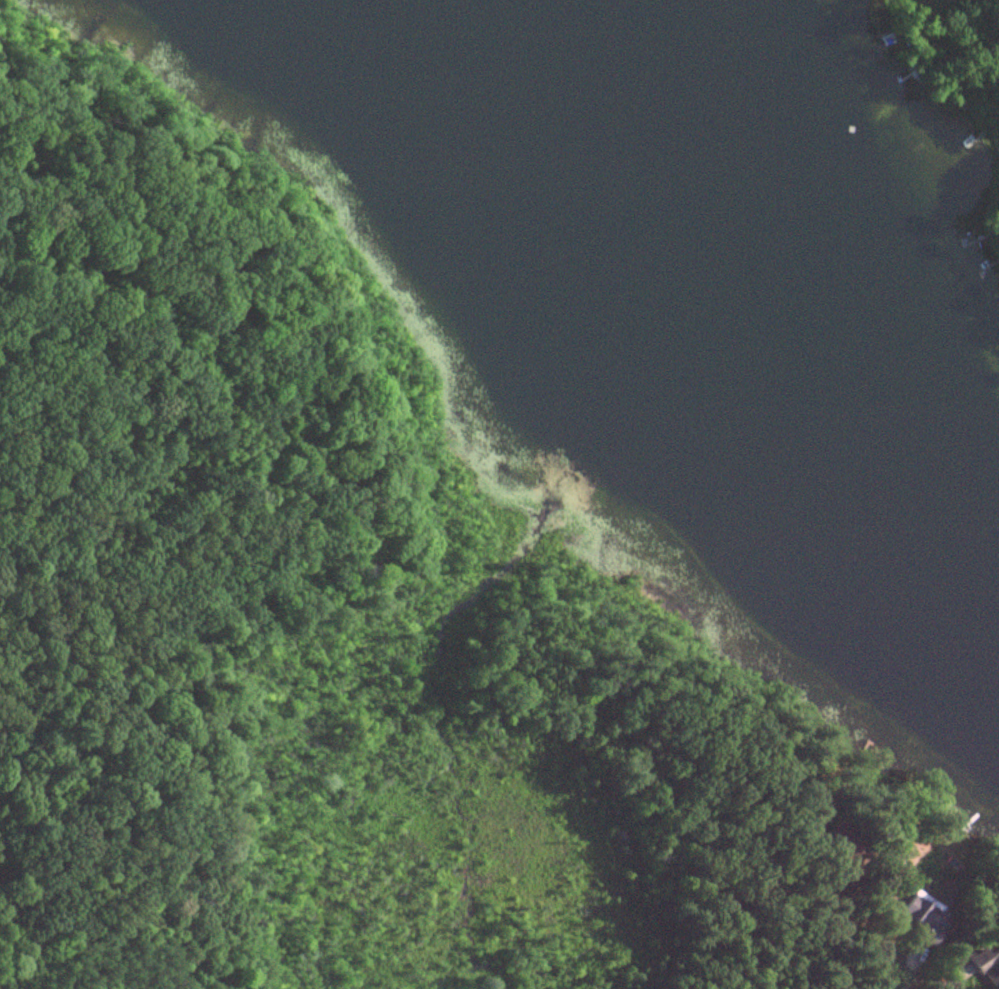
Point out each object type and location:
building: (837, 879)
building: (912, 917)
building: (982, 968)

